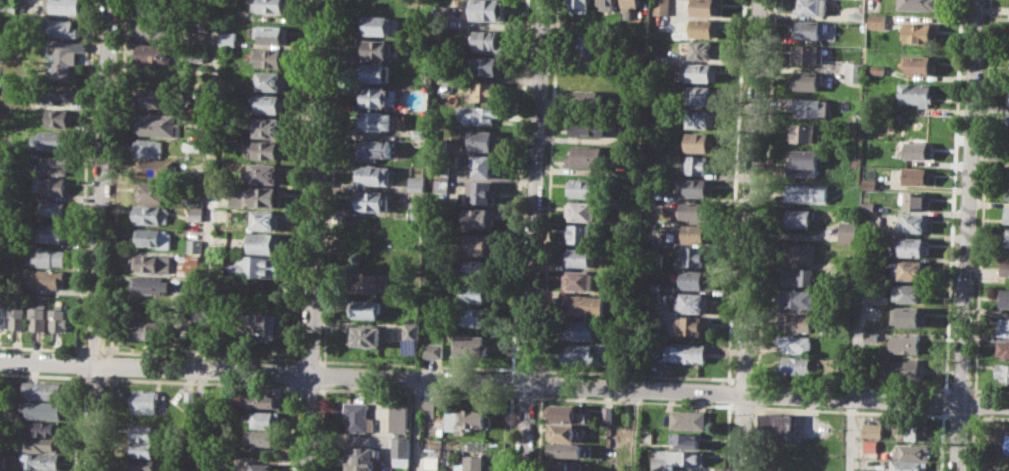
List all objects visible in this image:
building: (921, 4)
building: (581, 5)
building: (607, 5)
building: (11, 6)
building: (63, 6)
building: (271, 6)
building: (660, 7)
building: (705, 7)
building: (811, 7)
building: (629, 8)
building: (148, 10)
building: (487, 10)
building: (856, 15)
building: (441, 16)
building: (877, 20)
building: (378, 25)
building: (701, 27)
building: (60, 28)
building: (808, 28)
building: (157, 29)
building: (921, 32)
building: (273, 33)
building: (229, 38)
building: (487, 41)
building: (376, 48)
building: (702, 48)
building: (588, 50)
building: (154, 53)
building: (808, 53)
building: (272, 56)
building: (196, 57)
building: (62, 59)
building: (921, 64)
building: (487, 66)
building: (854, 71)
building: (377, 73)
building: (698, 73)
building: (806, 80)
building: (272, 81)
building: (488, 90)
building: (58, 93)
building: (916, 93)
building: (703, 95)
building: (374, 96)
building: (153, 98)
building: (586, 99)
building: (271, 103)
building: (812, 107)
building: (481, 114)
building: (62, 118)
building: (701, 118)
building: (1008, 118)
building: (376, 120)
building: (154, 124)
building: (589, 125)
building: (269, 127)
building: (1008, 129)
building: (803, 132)
building: (55, 140)
building: (482, 140)
building: (700, 142)
building: (153, 148)
building: (268, 149)
building: (376, 149)
building: (919, 151)
building: (586, 156)
building: (804, 162)
building: (478, 164)
building: (698, 164)
building: (56, 165)
building: (155, 168)
building: (267, 173)
building: (372, 175)
road: (84, 176)
building: (917, 176)
road: (114, 178)
building: (442, 179)
road: (301, 182)
road: (331, 182)
building: (417, 183)
building: (870, 183)
building: (53, 185)
road: (518, 186)
building: (698, 186)
road: (548, 187)
building: (585, 187)
building: (152, 191)
road: (734, 191)
building: (481, 192)
road: (765, 192)
building: (807, 192)
building: (1006, 194)
road: (951, 196)
building: (267, 197)
road: (981, 197)
building: (370, 200)
building: (916, 200)
building: (867, 206)
building: (57, 209)
building: (417, 210)
building: (698, 210)
building: (583, 211)
building: (196, 212)
building: (151, 214)
building: (1006, 214)
building: (478, 217)
building: (801, 217)
building: (268, 220)
building: (913, 223)
building: (849, 230)
building: (56, 233)
building: (582, 233)
building: (698, 234)
road: (96, 235)
road: (207, 235)
road: (316, 235)
road: (533, 235)
road: (749, 235)
road: (967, 235)
building: (150, 236)
building: (1008, 238)
building: (267, 242)
building: (479, 243)
building: (195, 246)
building: (914, 247)
building: (802, 252)
building: (46, 256)
building: (581, 256)
building: (698, 256)
building: (149, 263)
building: (189, 265)
building: (259, 266)
building: (1005, 267)
building: (478, 269)
building: (848, 269)
building: (911, 269)
building: (800, 276)
building: (46, 277)
building: (696, 279)
building: (580, 280)
building: (369, 282)
building: (152, 284)
building: (477, 293)
building: (912, 293)
building: (1004, 297)
building: (799, 299)
building: (693, 302)
building: (585, 305)
building: (366, 308)
building: (3, 314)
building: (18, 315)
building: (911, 315)
building: (39, 316)
building: (478, 316)
building: (60, 318)
building: (798, 322)
building: (259, 323)
building: (693, 324)
building: (828, 326)
building: (1004, 326)
building: (148, 330)
building: (580, 330)
building: (412, 331)
building: (366, 335)
building: (873, 335)
building: (191, 341)
building: (907, 343)
building: (797, 344)
building: (472, 346)
road: (42, 348)
building: (433, 349)
building: (1003, 349)
road: (93, 350)
building: (685, 353)
road: (201, 354)
building: (580, 354)
road: (309, 360)
road: (77, 362)
road: (109, 364)
road: (417, 365)
building: (795, 365)
road: (526, 369)
building: (907, 369)
building: (1003, 372)
road: (293, 374)
road: (634, 374)
road: (41, 375)
road: (323, 376)
road: (92, 377)
road: (743, 378)
road: (200, 381)
road: (504, 381)
road: (511, 382)
road: (541, 383)
road: (850, 383)
road: (307, 387)
road: (958, 388)
building: (44, 389)
road: (988, 389)
road: (417, 391)
road: (727, 393)
road: (757, 394)
road: (525, 396)
building: (189, 398)
building: (263, 399)
building: (146, 400)
road: (633, 400)
road: (943, 402)
road: (973, 404)
road: (741, 406)
building: (428, 407)
road: (753, 407)
building: (44, 409)
road: (877, 412)
building: (568, 414)
building: (608, 414)
building: (359, 416)
road: (943, 416)
road: (958, 416)
building: (400, 417)
road: (988, 417)
building: (267, 419)
building: (476, 419)
building: (688, 419)
road: (74, 421)
road: (107, 422)
road: (417, 425)
building: (45, 427)
road: (291, 428)
road: (321, 428)
building: (780, 428)
road: (508, 430)
road: (634, 430)
building: (873, 430)
road: (538, 431)
building: (913, 431)
building: (144, 432)
building: (565, 432)
road: (849, 435)
road: (753, 436)
building: (262, 437)
road: (727, 437)
building: (687, 439)
road: (971, 442)
building: (39, 443)
building: (1006, 444)
building: (870, 445)
building: (142, 449)
building: (402, 450)
building: (564, 450)
building: (912, 451)
building: (363, 458)
building: (675, 458)
building: (41, 460)
building: (432, 462)
building: (470, 463)
building: (141, 465)
building: (567, 465)
building: (909, 465)
building: (262, 467)
building: (867, 469)
building: (36, 470)
building: (779, 470)

